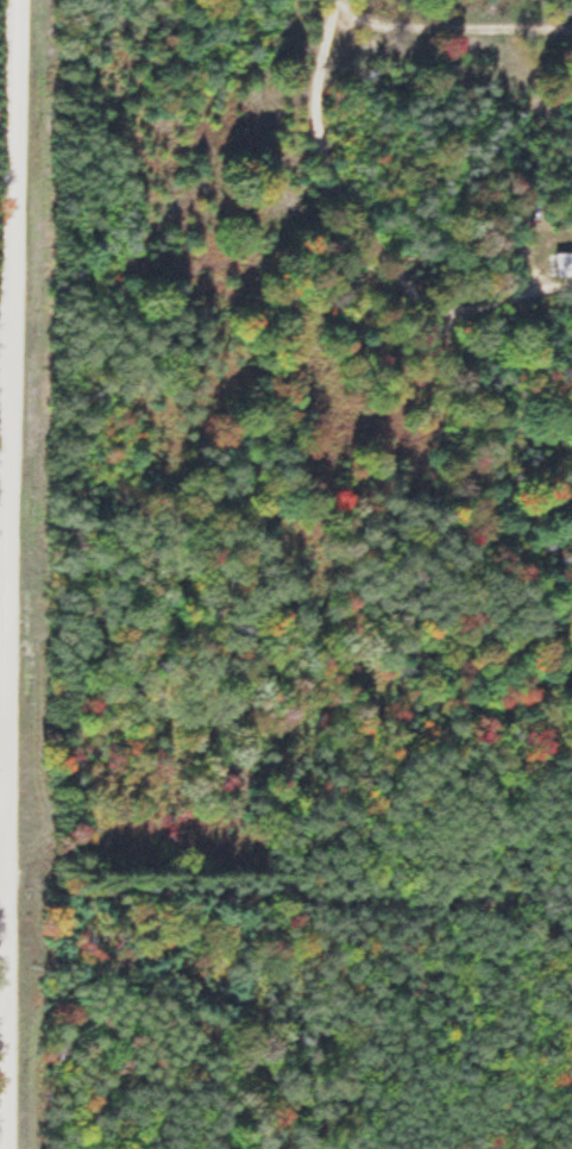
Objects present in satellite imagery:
road: (447, 24)
road: (354, 225)
building: (562, 263)
road: (11, 574)
road: (5, 891)

